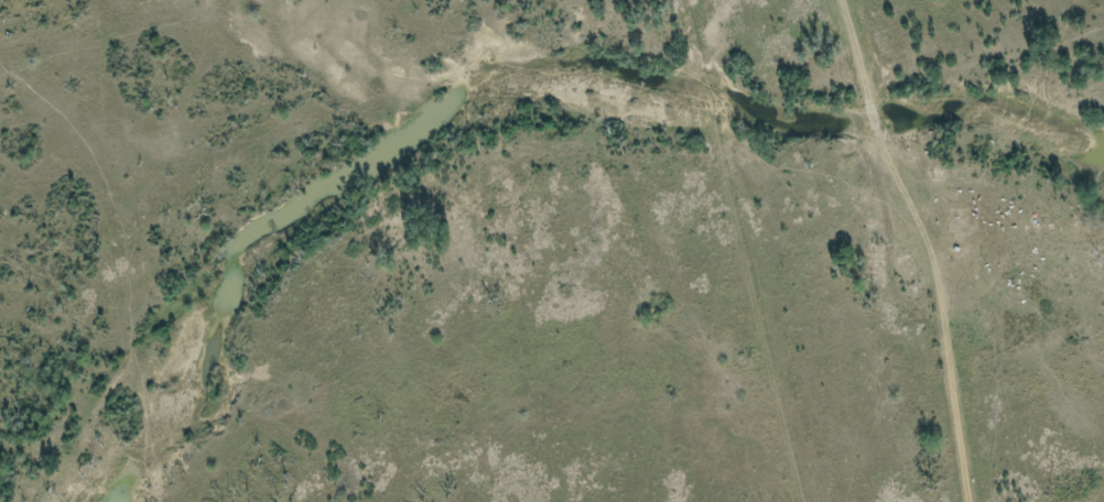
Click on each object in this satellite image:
road: (924, 249)

